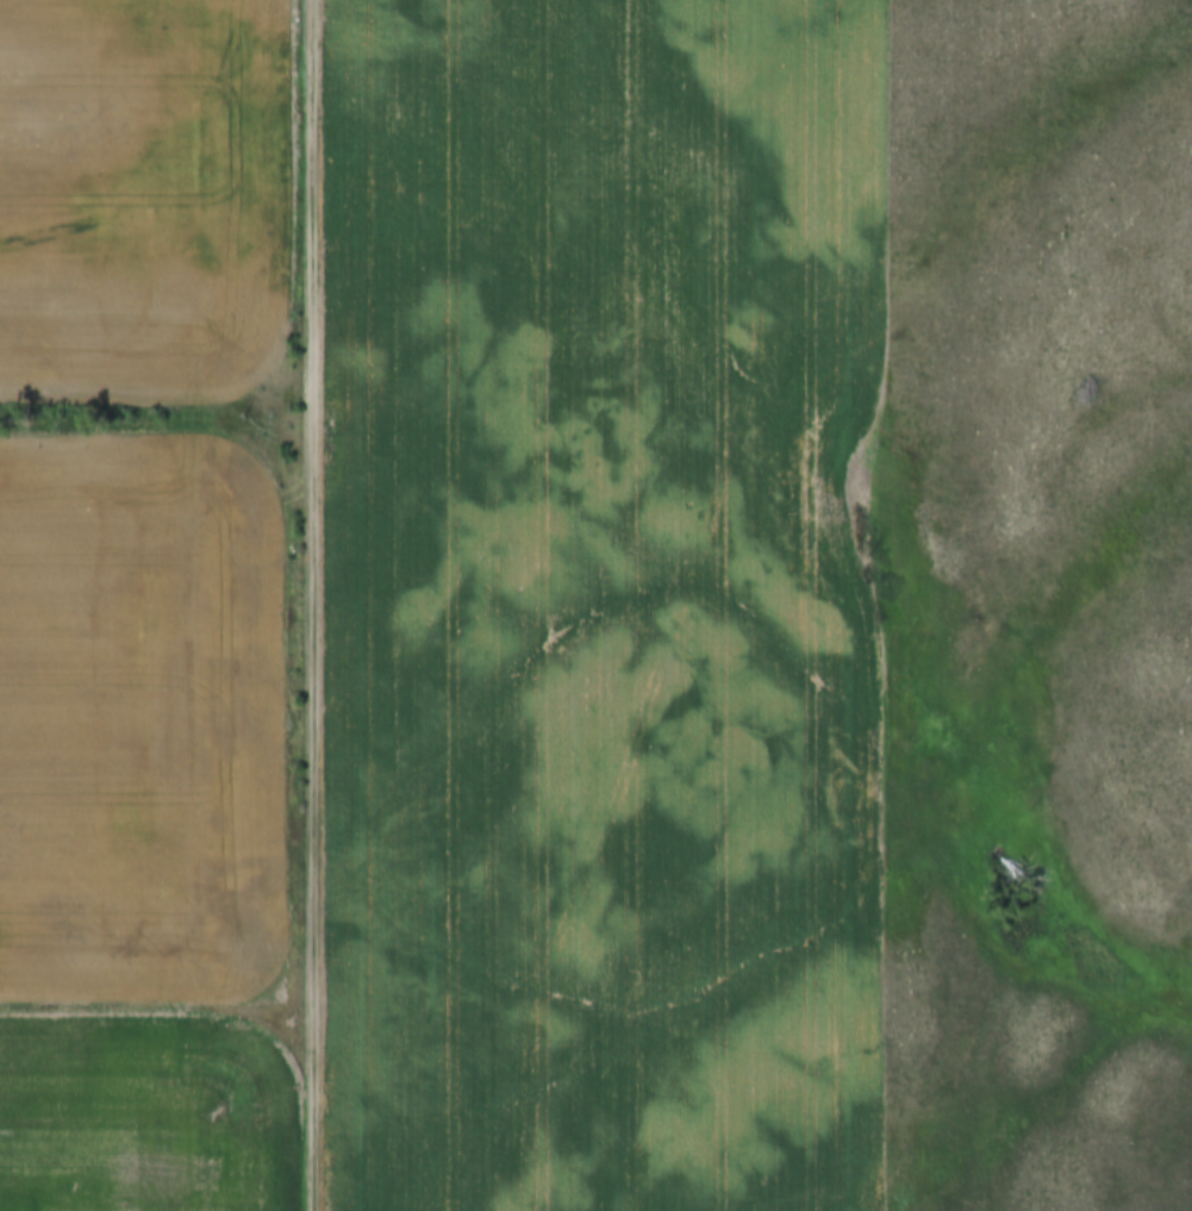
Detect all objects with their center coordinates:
road: (313, 605)

